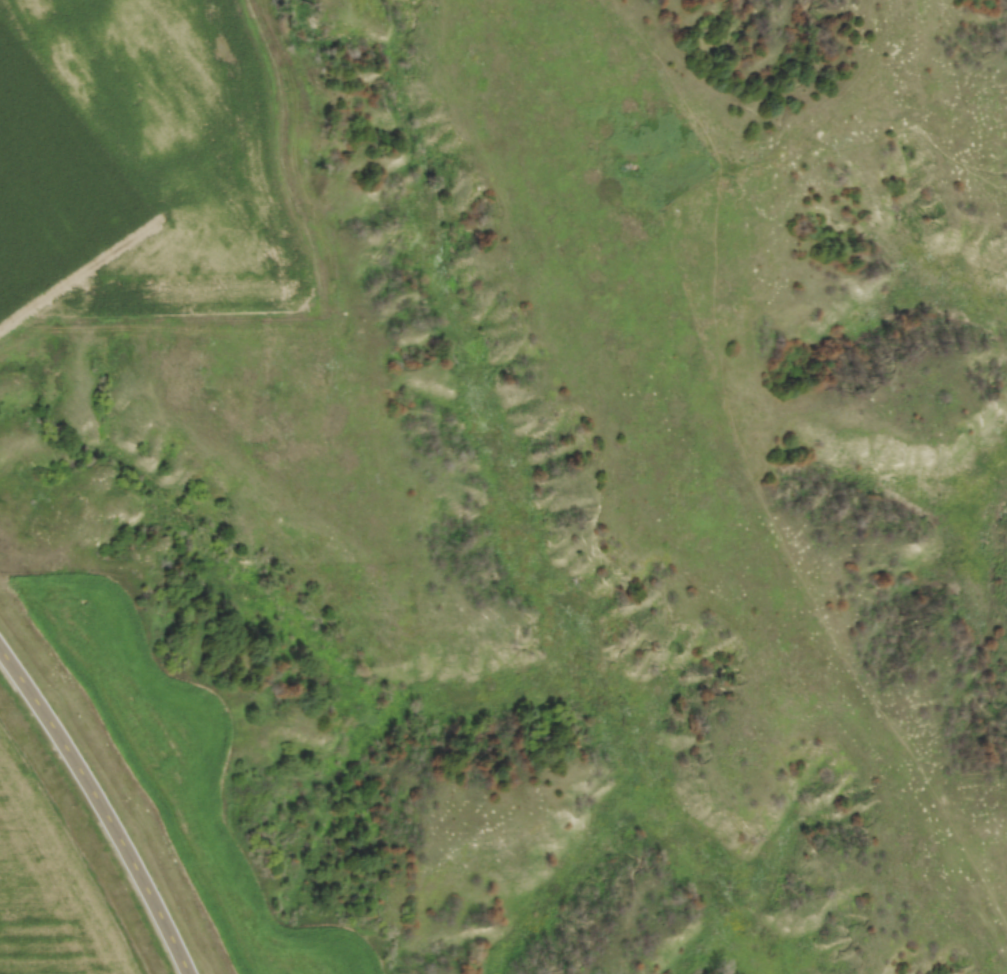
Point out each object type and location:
road: (100, 807)

